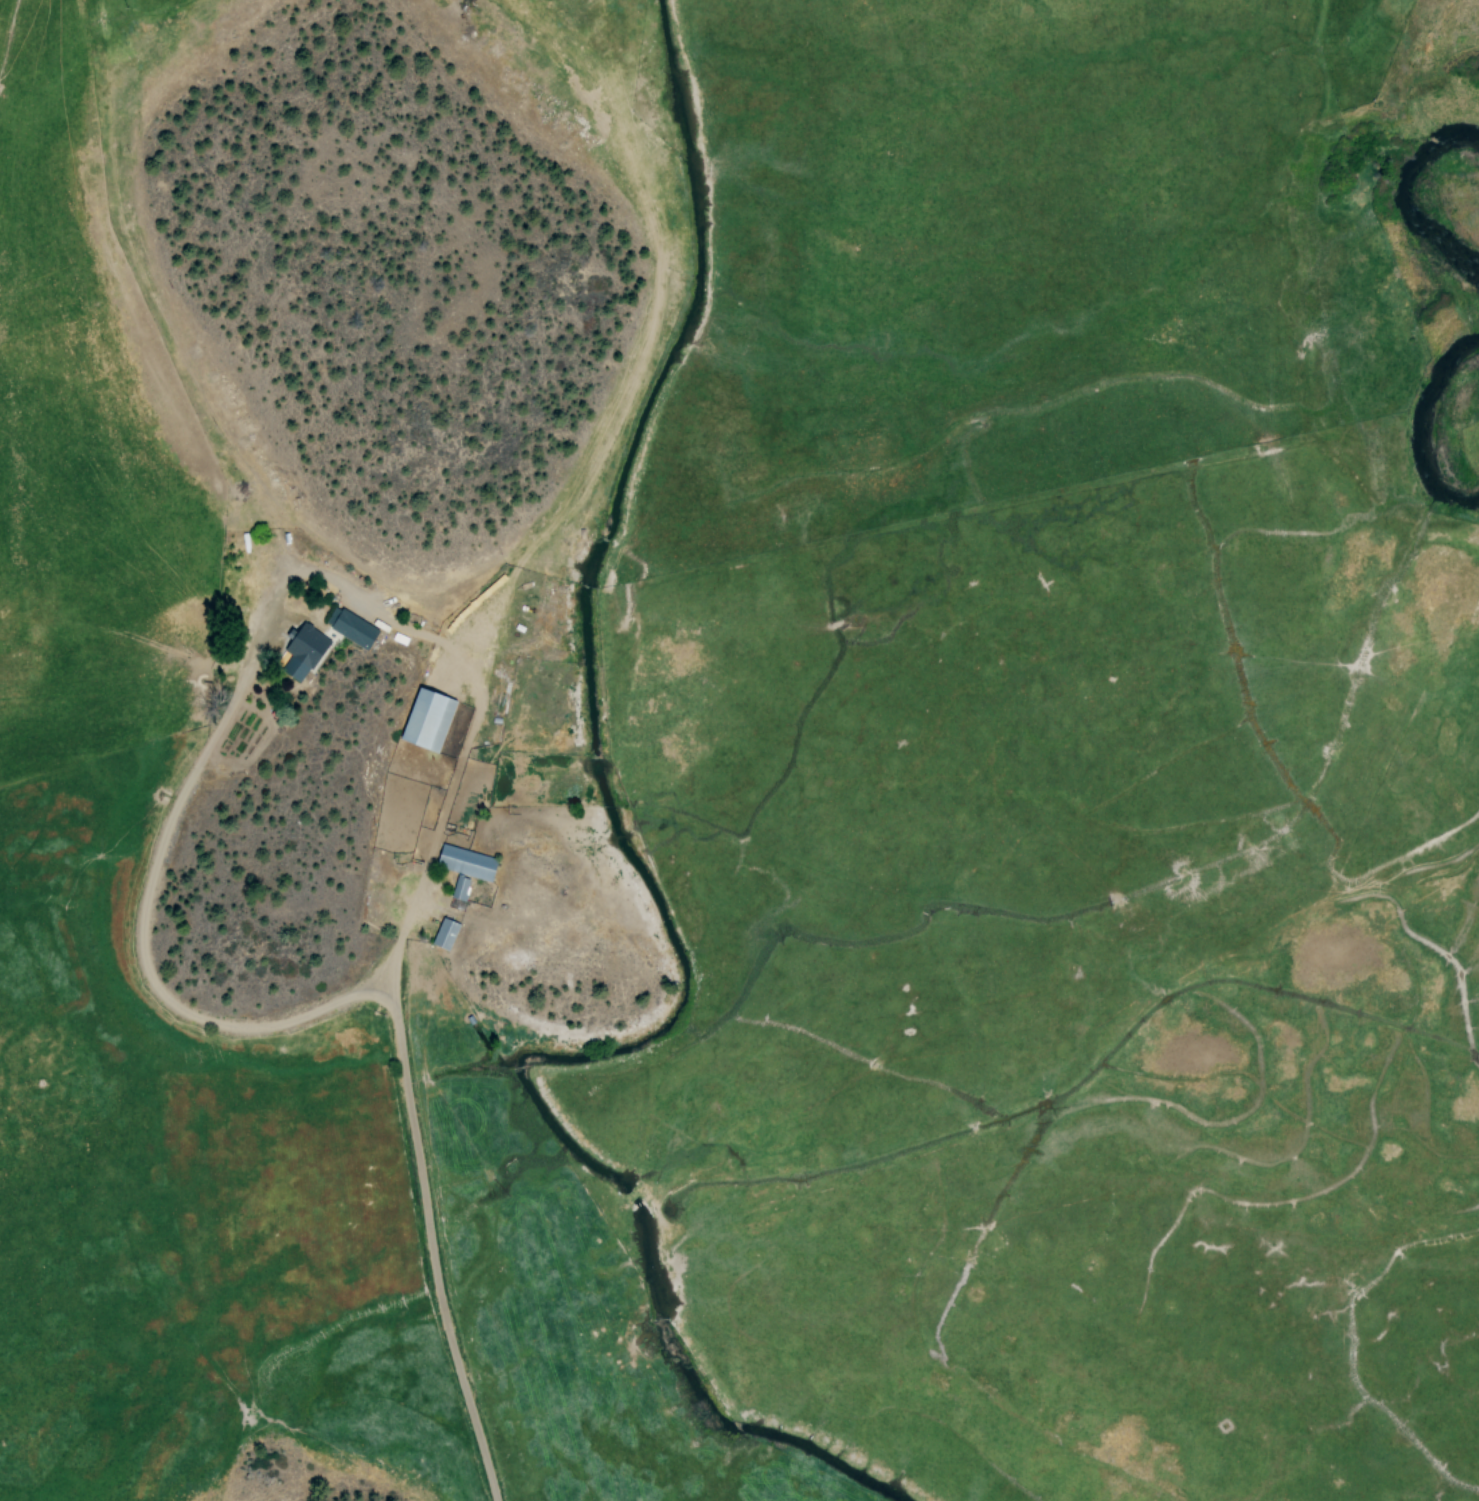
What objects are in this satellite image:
river: (1400, 201)
river: (1419, 432)
building: (352, 628)
building: (302, 651)
building: (426, 719)
building: (397, 759)
building: (464, 867)
building: (444, 933)
road: (374, 997)

